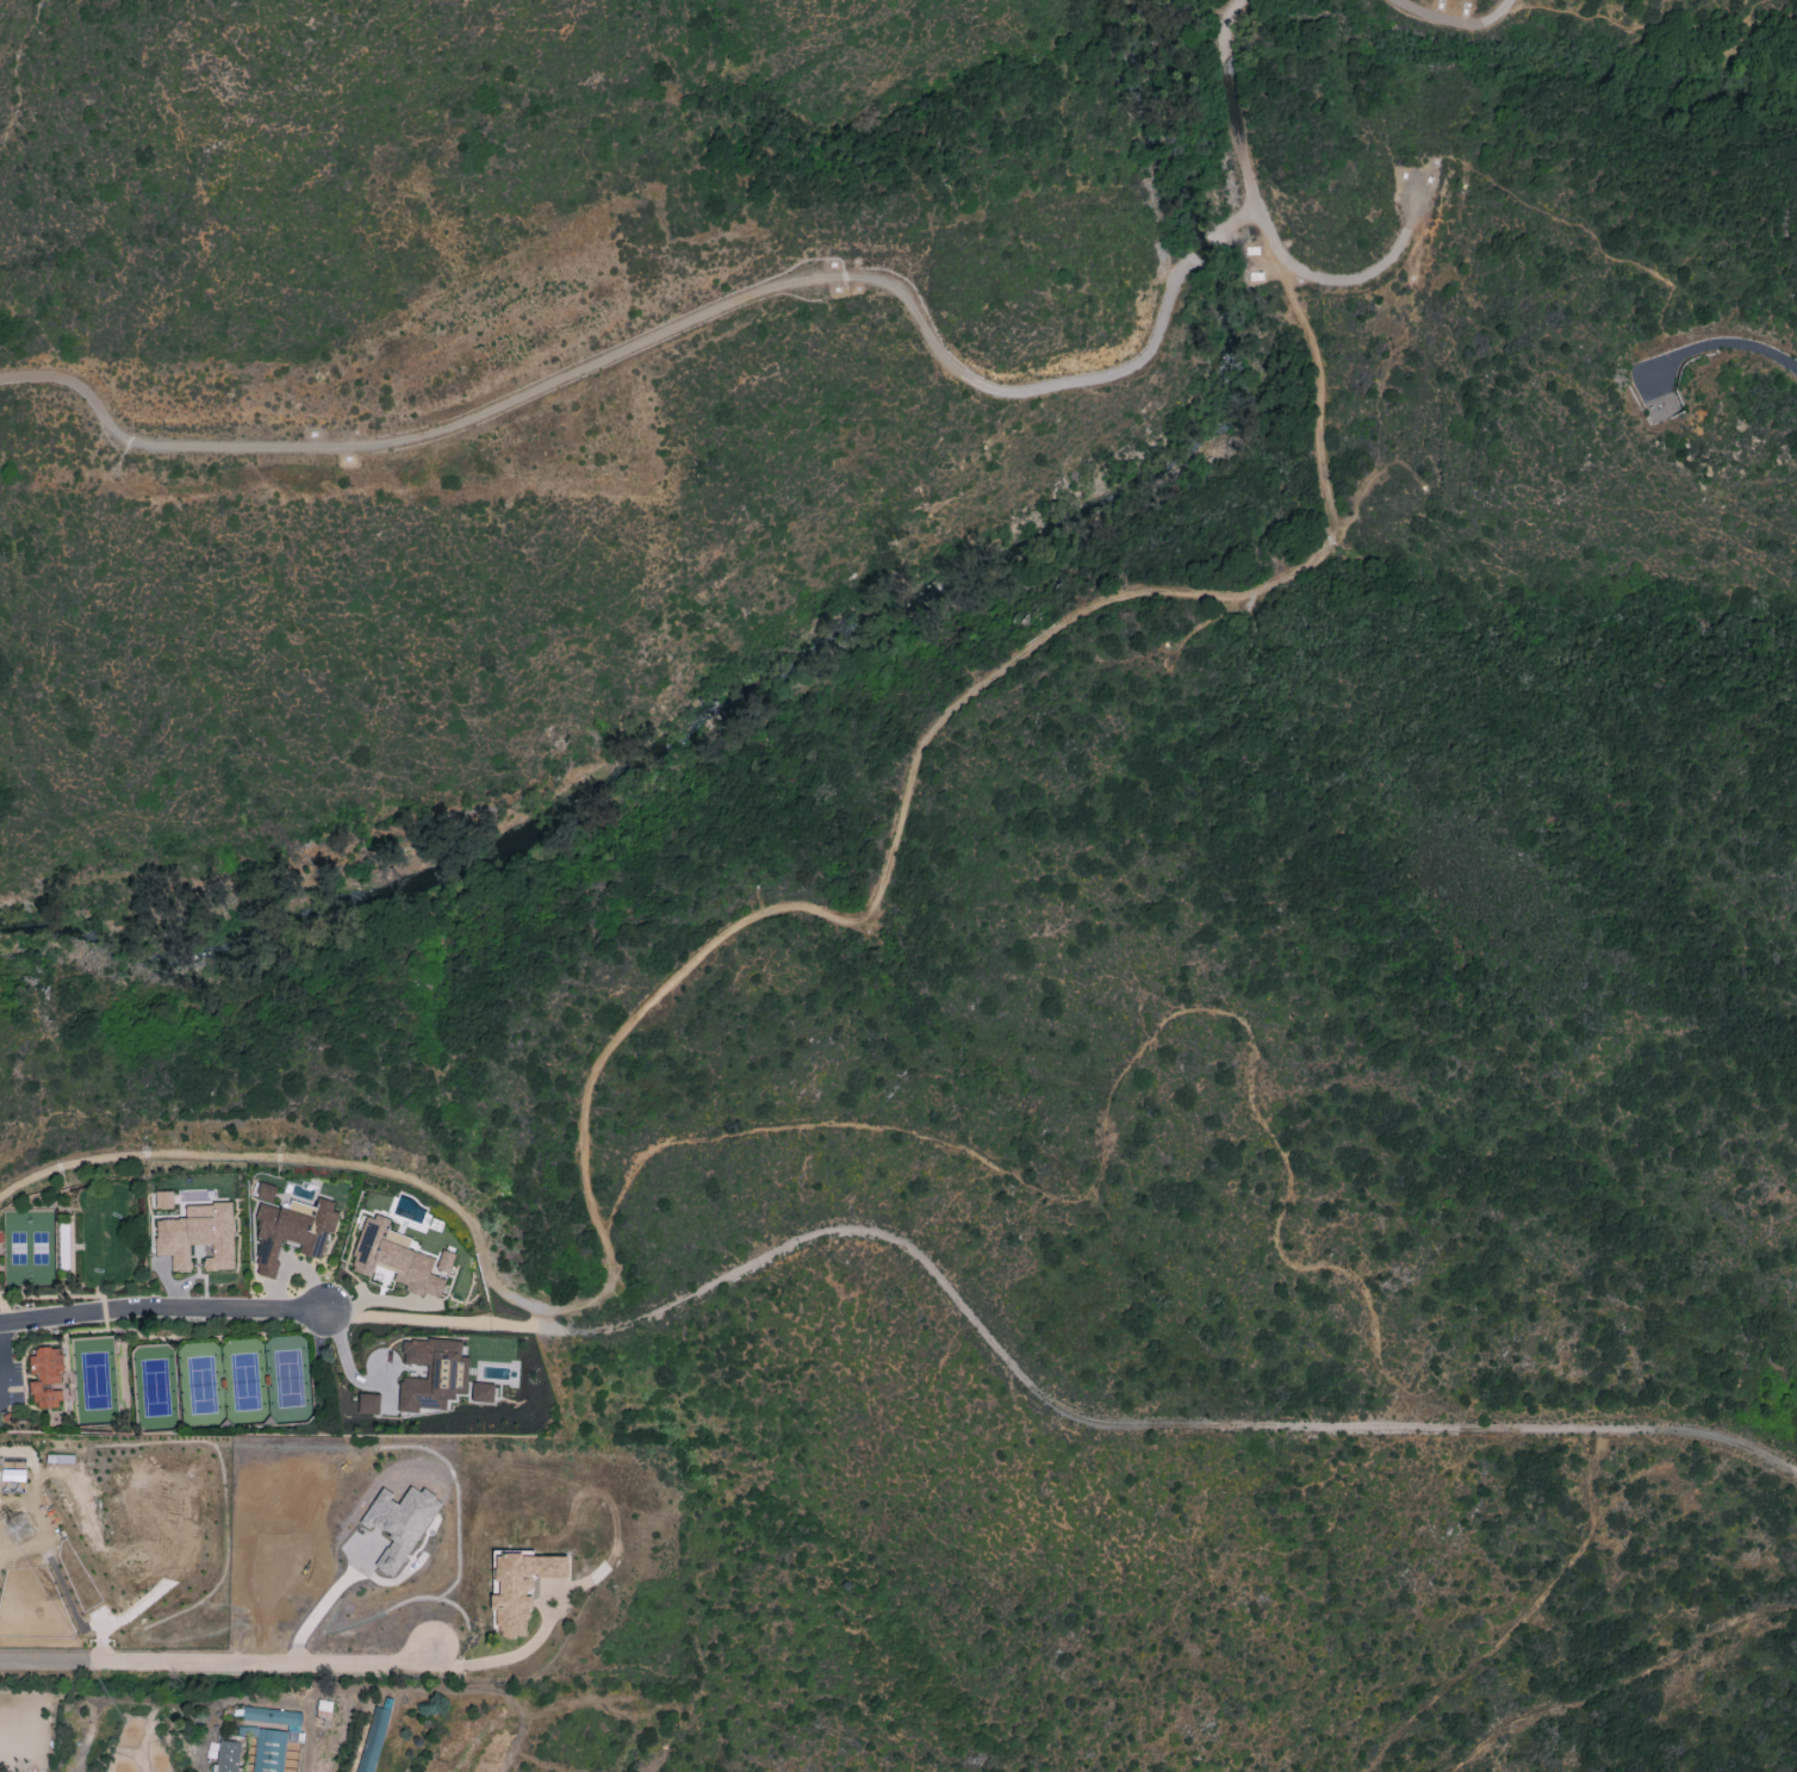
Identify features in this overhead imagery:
road: (1759, 2)
road: (1500, 8)
road: (1574, 12)
road: (1776, 12)
road: (1447, 20)
road: (1230, 104)
road: (1579, 225)
road: (1350, 275)
road: (677, 328)
road: (1736, 347)
road: (912, 763)
road: (1113, 1089)
road: (274, 1157)
building: (266, 1192)
building: (163, 1199)
building: (292, 1231)
building: (198, 1236)
building: (398, 1258)
road: (161, 1311)
road: (429, 1323)
road: (1, 1360)
road: (344, 1361)
building: (431, 1375)
building: (45, 1376)
park: (287, 1378)
park: (94, 1380)
park: (244, 1381)
park: (200, 1385)
park: (155, 1387)
building: (481, 1392)
building: (368, 1404)
road: (1103, 1423)
building: (12, 1474)
building: (400, 1523)
power tower: (21, 1530)
building: (520, 1587)
road: (325, 1602)
road: (497, 1660)
road: (216, 1662)
building: (271, 1735)
building: (373, 1740)
building: (226, 1755)

